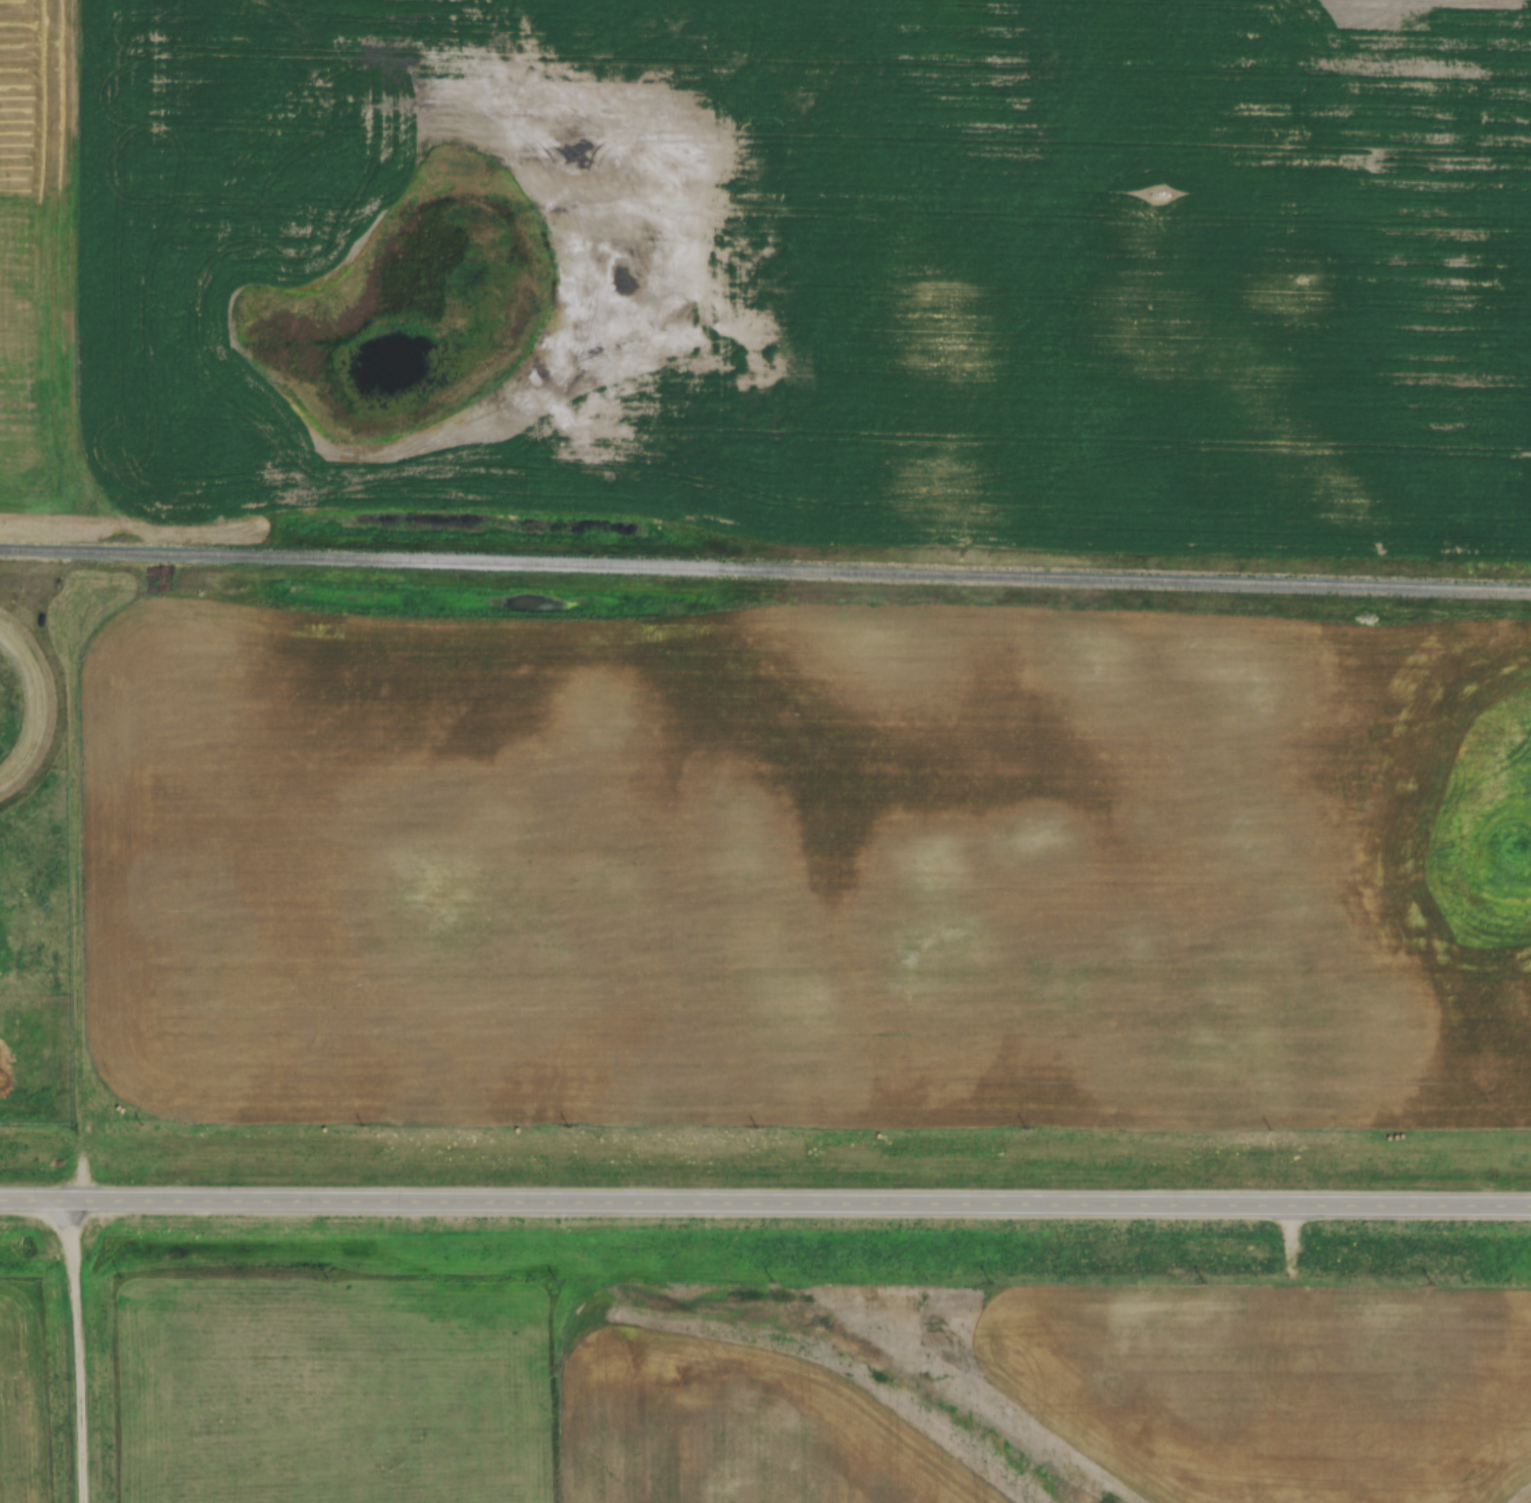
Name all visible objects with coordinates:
railway: (765, 573)
raceway: (42, 709)
road: (765, 1205)
road: (83, 1352)

